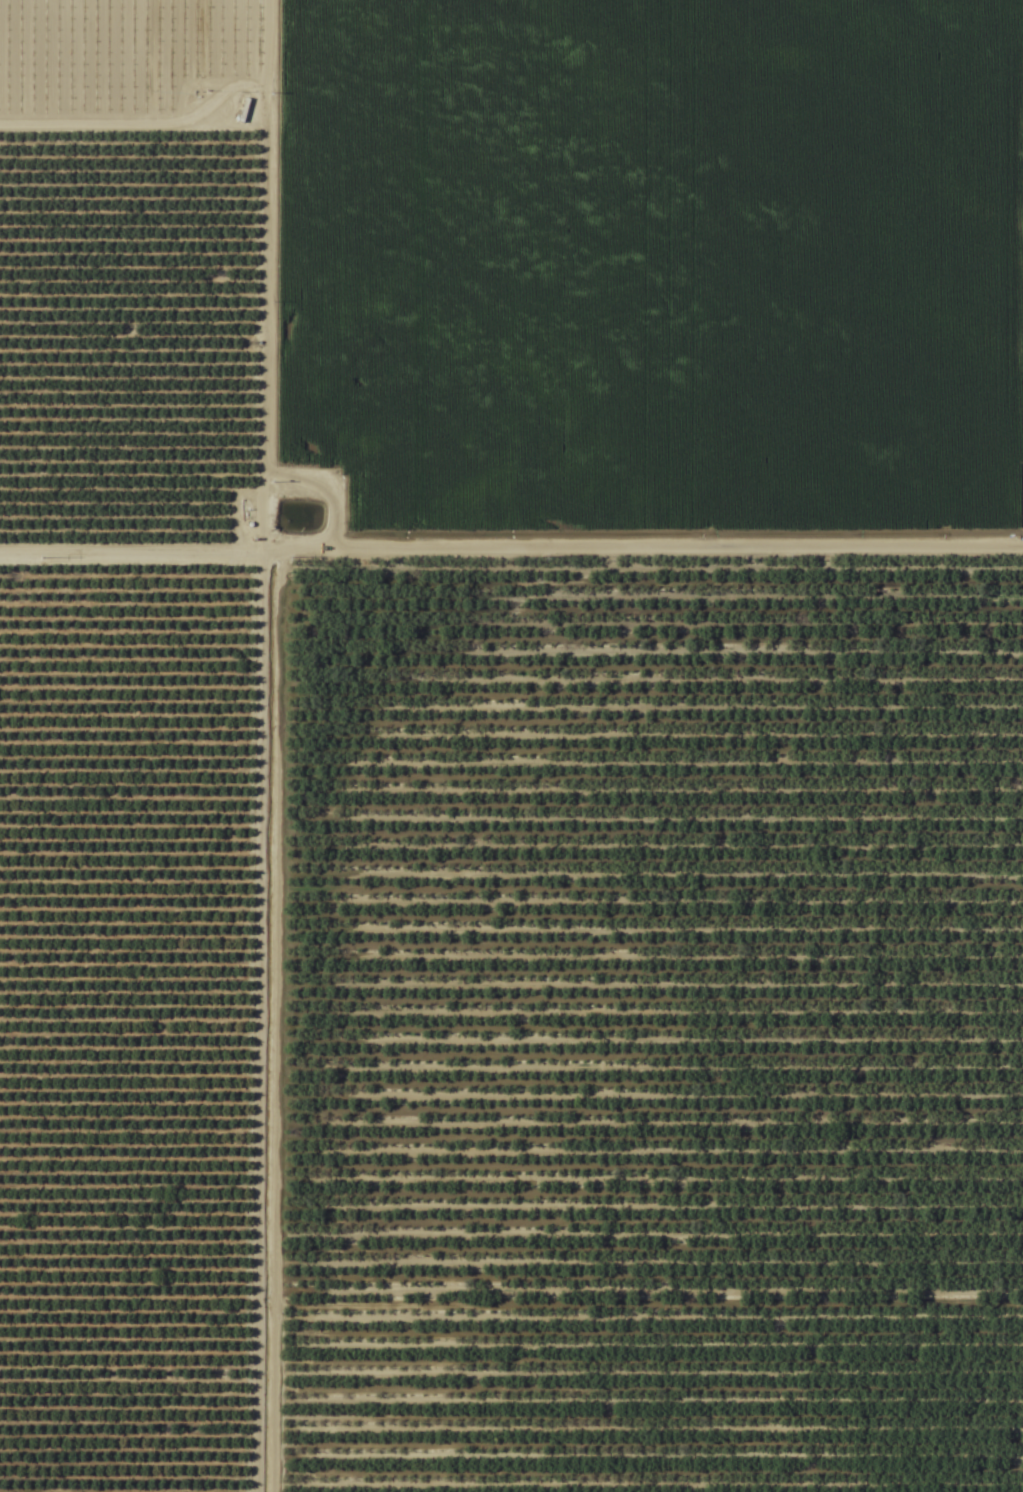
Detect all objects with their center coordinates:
wastewater plant: (297, 512)
road: (511, 545)

